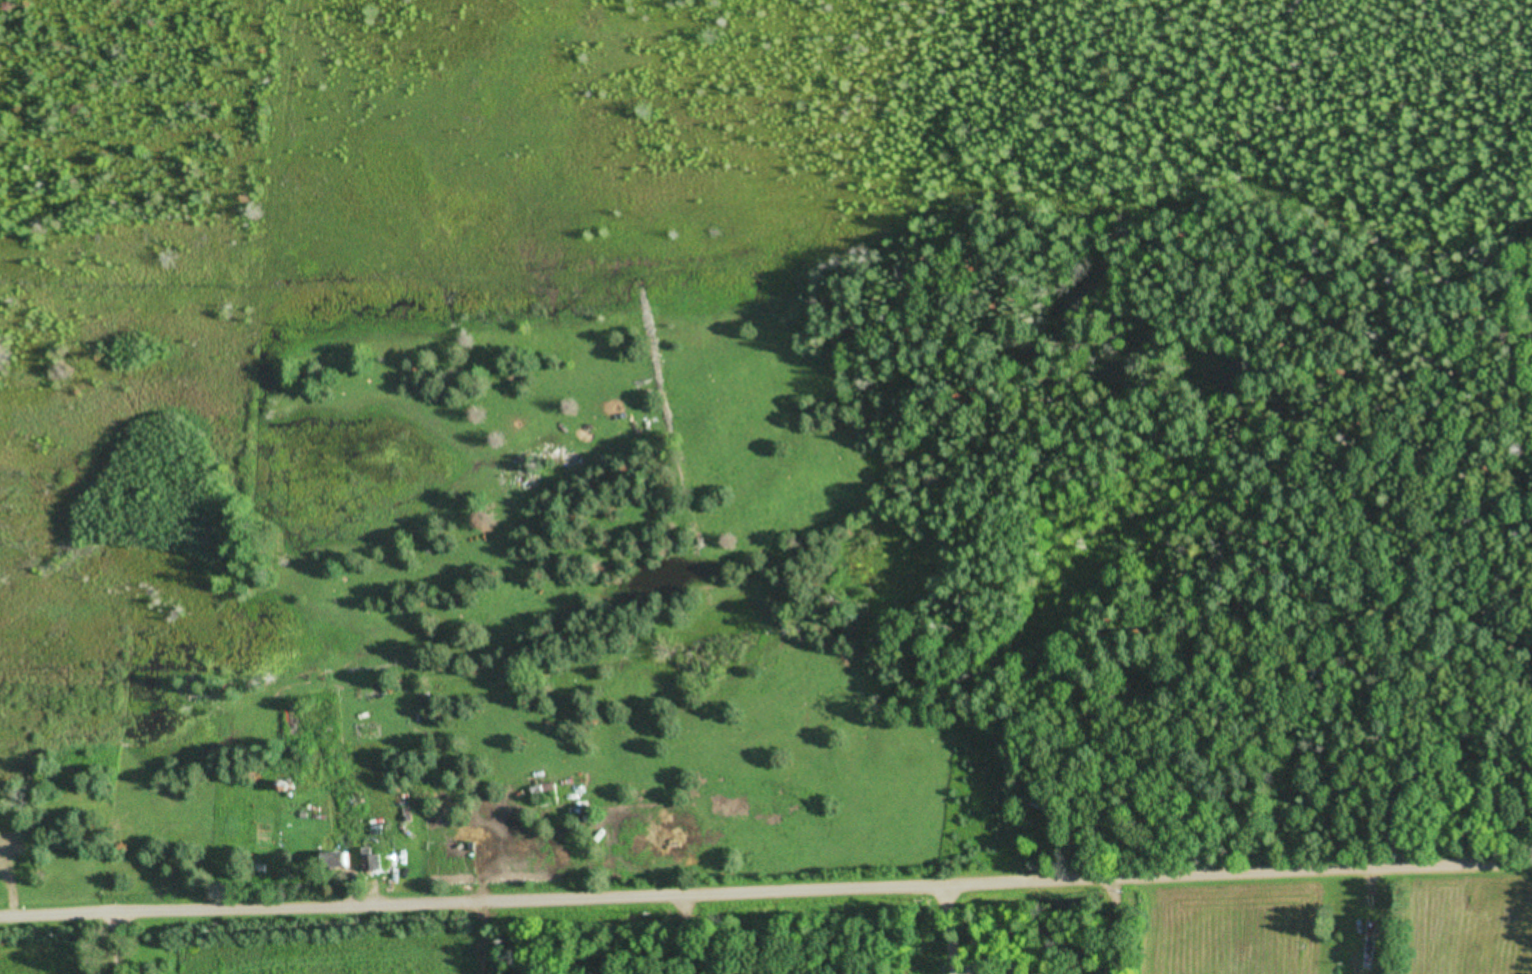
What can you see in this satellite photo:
building: (20, 841)
building: (344, 859)
building: (373, 865)
building: (261, 869)
road: (766, 916)

